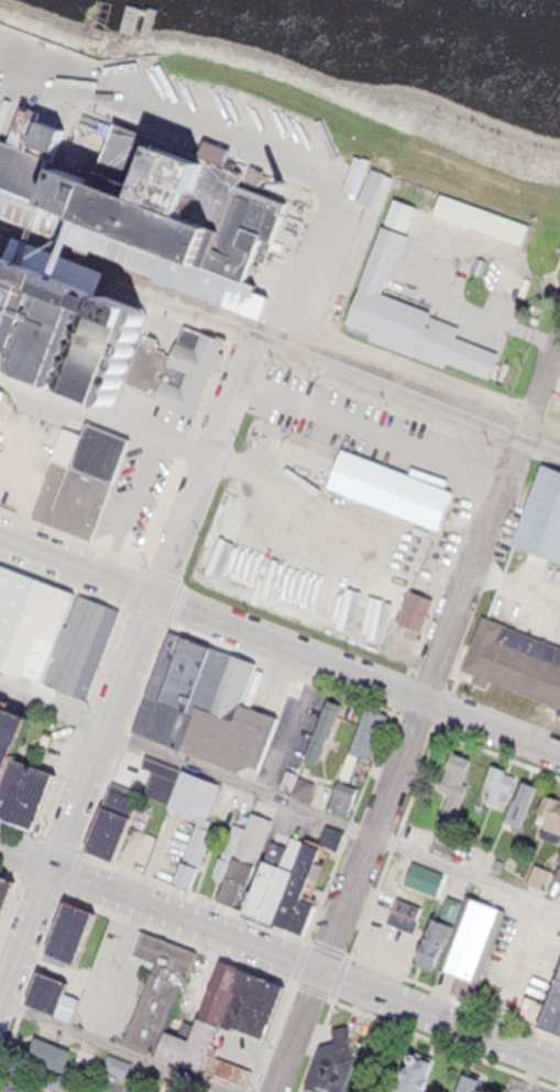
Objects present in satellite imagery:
building: (133, 19)
road: (239, 125)
building: (150, 190)
building: (410, 215)
building: (490, 219)
railway: (129, 252)
railway: (129, 260)
building: (408, 306)
building: (65, 323)
silo: (65, 323)
railway: (279, 330)
railway: (279, 343)
building: (176, 361)
building: (3, 400)
road: (107, 404)
road: (215, 443)
building: (79, 472)
building: (388, 483)
building: (136, 491)
building: (541, 509)
road: (490, 524)
building: (221, 531)
building: (355, 581)
road: (211, 615)
building: (51, 625)
building: (516, 653)
building: (0, 694)
building: (205, 698)
building: (327, 724)
building: (10, 727)
road: (491, 729)
road: (487, 745)
building: (454, 777)
building: (496, 782)
building: (25, 783)
building: (520, 795)
road: (80, 797)
road: (279, 799)
building: (344, 800)
building: (551, 810)
building: (124, 813)
road: (371, 837)
building: (448, 841)
parking lot: (136, 842)
building: (193, 842)
building: (228, 845)
building: (246, 852)
building: (559, 856)
road: (122, 859)
building: (559, 862)
building: (271, 869)
road: (326, 877)
building: (4, 878)
road: (375, 884)
building: (298, 885)
road: (12, 889)
road: (160, 908)
building: (69, 928)
building: (470, 935)
building: (433, 960)
building: (157, 983)
building: (52, 986)
building: (551, 994)
building: (253, 1000)
building: (204, 1011)
road: (439, 1017)
road: (9, 1031)
road: (296, 1031)
road: (424, 1033)
road: (118, 1047)
building: (52, 1055)
building: (332, 1057)
building: (415, 1067)
building: (466, 1079)
building: (57, 1082)
road: (556, 1082)
parking lot: (523, 1083)
building: (10, 1085)
building: (36, 1086)
building: (66, 1091)
building: (97, 1091)

